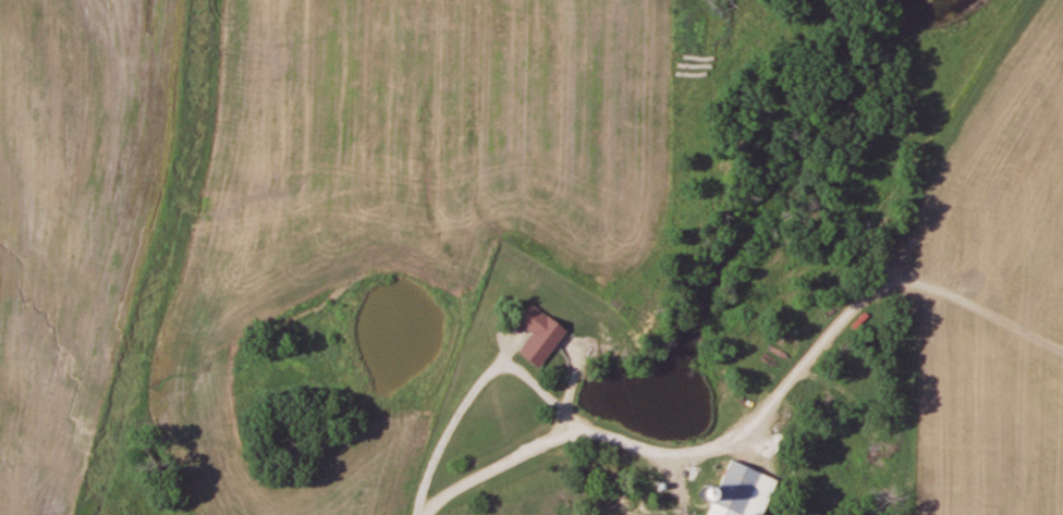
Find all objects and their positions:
building: (542, 334)
building: (741, 491)

